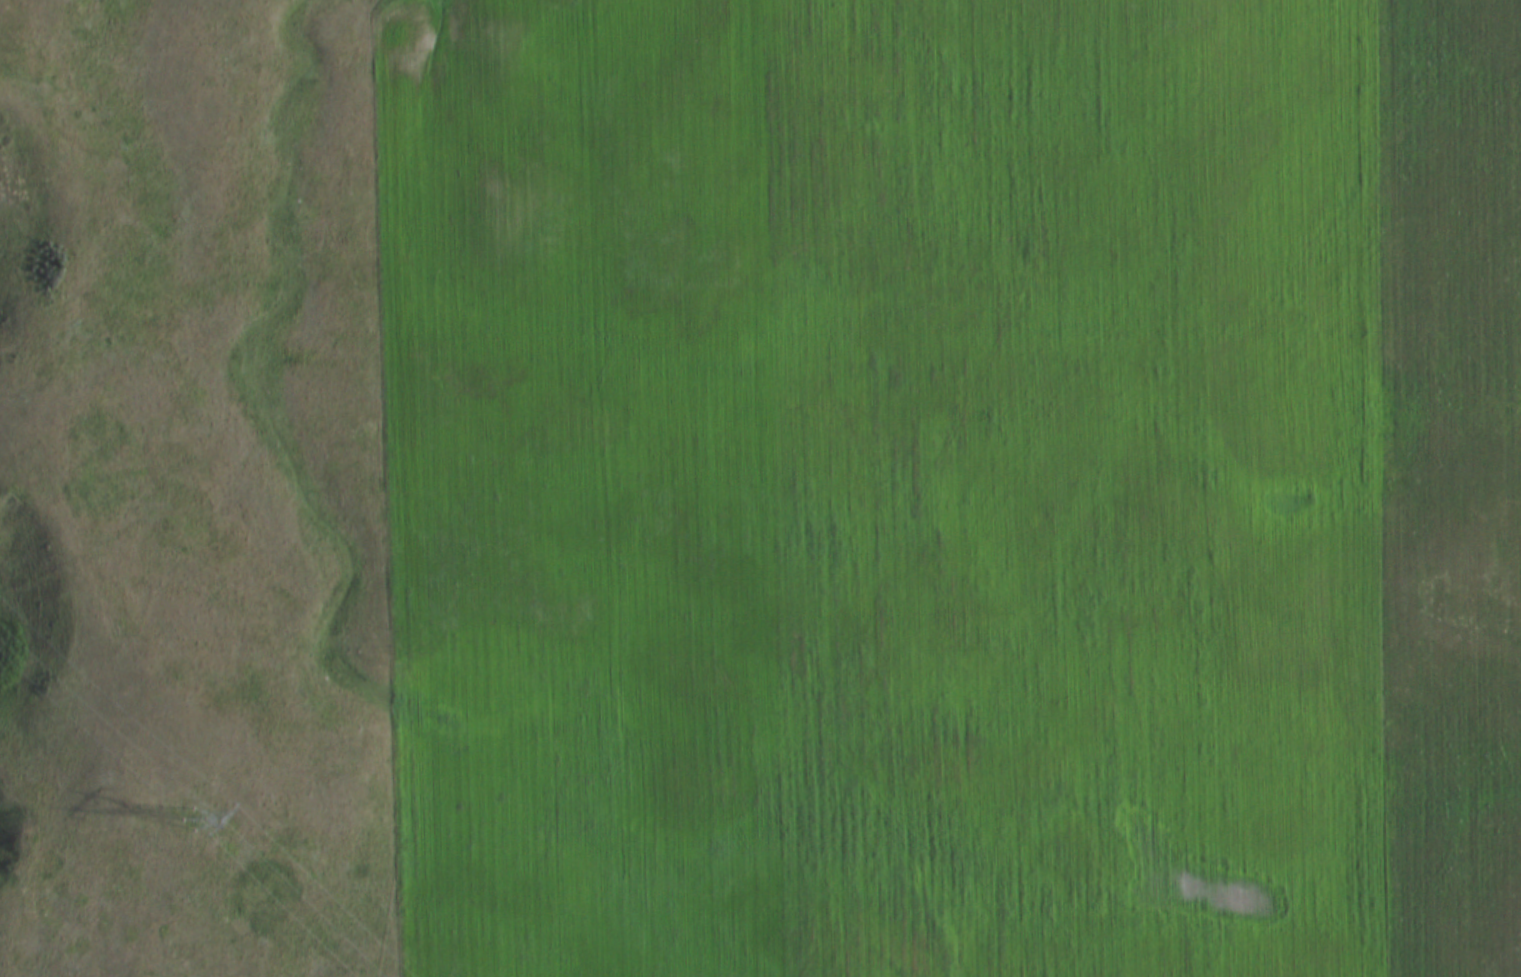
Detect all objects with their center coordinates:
power tower: (184, 826)

